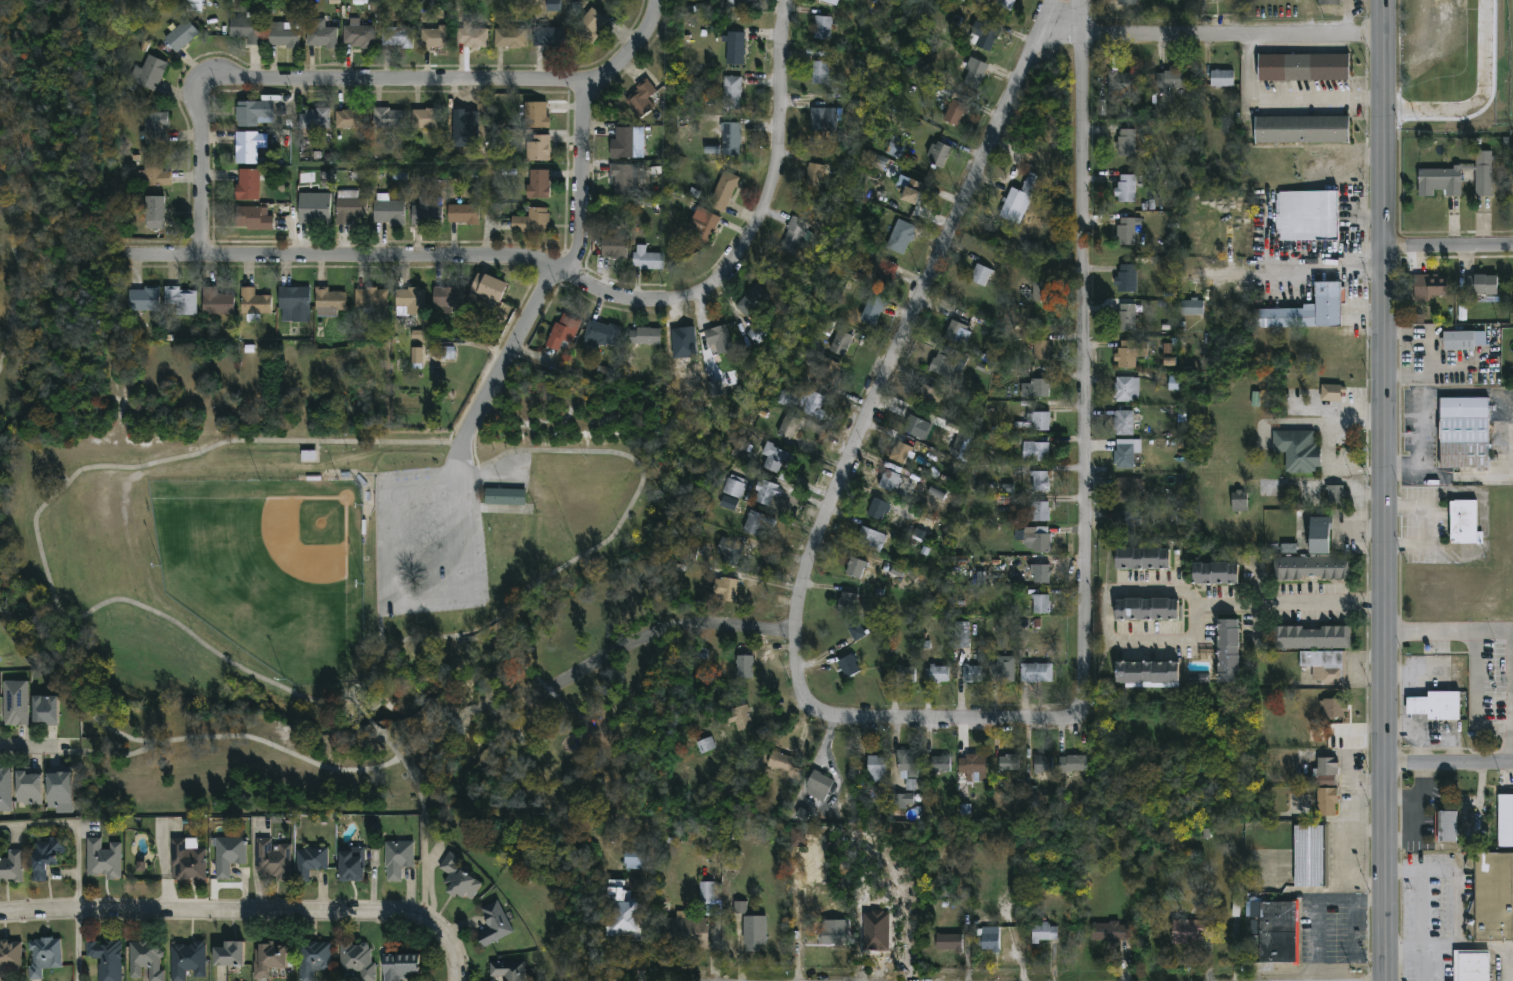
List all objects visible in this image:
building: (1214, 0)
building: (849, 1)
building: (830, 2)
building: (1126, 3)
building: (1328, 3)
building: (738, 4)
building: (194, 5)
building: (553, 5)
building: (1006, 5)
building: (948, 25)
building: (589, 27)
building: (822, 29)
building: (245, 30)
building: (984, 34)
building: (281, 35)
building: (321, 35)
building: (181, 37)
building: (358, 37)
road: (1233, 37)
building: (397, 38)
building: (435, 38)
building: (548, 38)
building: (472, 39)
building: (509, 39)
building: (735, 50)
building: (1302, 68)
building: (150, 74)
building: (819, 75)
building: (973, 76)
road: (407, 80)
building: (1169, 80)
building: (1221, 80)
building: (1122, 84)
building: (732, 94)
road: (1285, 98)
building: (641, 100)
building: (955, 112)
building: (255, 115)
building: (535, 116)
building: (464, 117)
building: (388, 118)
building: (313, 119)
building: (351, 119)
building: (426, 119)
building: (818, 121)
road: (780, 128)
building: (156, 129)
building: (1301, 131)
building: (730, 139)
building: (1125, 143)
building: (626, 144)
building: (249, 147)
building: (895, 147)
building: (537, 149)
building: (937, 156)
road: (204, 169)
building: (154, 172)
building: (1483, 174)
building: (815, 175)
building: (1438, 180)
building: (620, 181)
building: (538, 185)
building: (248, 186)
building: (1126, 190)
building: (723, 192)
building: (908, 192)
building: (1017, 202)
building: (349, 211)
building: (155, 214)
building: (389, 214)
building: (314, 215)
building: (463, 215)
building: (425, 216)
building: (1306, 217)
building: (253, 219)
building: (531, 223)
building: (702, 227)
road: (584, 231)
building: (1126, 233)
building: (792, 238)
building: (899, 240)
building: (613, 247)
road: (1449, 249)
park: (68, 254)
road: (449, 256)
building: (646, 260)
building: (884, 275)
road: (1302, 275)
building: (981, 276)
building: (1126, 279)
building: (1428, 285)
building: (1481, 285)
building: (488, 289)
building: (1040, 294)
building: (448, 299)
building: (142, 301)
building: (181, 301)
building: (329, 301)
building: (370, 301)
building: (752, 302)
building: (217, 303)
building: (409, 303)
building: (254, 304)
building: (294, 306)
building: (1191, 309)
building: (871, 312)
building: (1304, 312)
building: (1126, 319)
road: (1437, 328)
building: (563, 333)
building: (757, 333)
building: (957, 333)
building: (602, 336)
building: (644, 337)
building: (1463, 340)
building: (719, 342)
building: (684, 343)
building: (840, 344)
road: (1405, 345)
road: (900, 347)
road: (1085, 349)
building: (1040, 353)
building: (417, 355)
building: (1129, 355)
building: (1170, 361)
building: (944, 363)
building: (827, 374)
road: (1462, 377)
building: (1175, 383)
building: (1036, 389)
building: (1126, 390)
road: (1436, 392)
building: (1332, 393)
building: (929, 397)
building: (813, 406)
building: (1039, 421)
building: (1123, 424)
building: (914, 426)
building: (788, 428)
building: (1463, 432)
building: (963, 444)
building: (739, 445)
road: (1327, 446)
building: (1297, 451)
building: (1036, 453)
building: (1125, 454)
building: (903, 455)
building: (308, 457)
building: (773, 459)
road: (1445, 475)
building: (1040, 482)
building: (889, 483)
building: (1008, 488)
building: (733, 490)
road: (1385, 490)
building: (1134, 491)
building: (767, 495)
building: (1334, 496)
building: (504, 498)
building: (729, 503)
building: (1239, 503)
building: (877, 511)
building: (1039, 513)
building: (1461, 522)
building: (755, 525)
building: (1126, 525)
road: (1432, 525)
building: (1318, 535)
building: (1036, 540)
building: (870, 541)
parking lot: (428, 542)
road: (603, 543)
building: (1288, 548)
building: (728, 552)
park: (297, 559)
building: (1141, 559)
building: (1311, 567)
building: (855, 569)
park: (270, 570)
building: (1039, 574)
building: (1215, 574)
building: (724, 590)
road: (387, 598)
road: (1293, 601)
building: (847, 603)
building: (1040, 605)
building: (1145, 610)
road: (673, 622)
road: (1448, 630)
building: (856, 633)
road: (1106, 634)
park: (326, 635)
building: (961, 635)
building: (1310, 637)
park: (44, 644)
building: (1227, 651)
building: (701, 653)
building: (1323, 665)
building: (744, 667)
building: (848, 667)
building: (1002, 671)
building: (1146, 672)
road: (1422, 672)
building: (1036, 673)
building: (936, 674)
building: (972, 674)
building: (906, 675)
building: (1199, 678)
road: (1402, 694)
road: (1472, 700)
building: (15, 704)
building: (1434, 706)
building: (1331, 708)
building: (43, 711)
building: (739, 718)
road: (946, 723)
road: (1433, 733)
building: (705, 745)
road: (1512, 745)
road: (32, 746)
road: (1421, 747)
road: (1449, 761)
building: (1009, 763)
building: (784, 764)
building: (907, 765)
building: (940, 765)
building: (1043, 765)
building: (1072, 765)
building: (972, 768)
building: (876, 769)
building: (819, 783)
building: (911, 784)
building: (1326, 787)
building: (29, 789)
building: (5, 790)
road: (1479, 792)
building: (59, 793)
building: (1028, 793)
road: (1421, 796)
building: (902, 803)
road: (1420, 817)
building: (1504, 819)
road: (39, 825)
building: (1445, 826)
building: (228, 856)
building: (1310, 856)
building: (45, 858)
building: (397, 859)
building: (103, 860)
building: (636, 860)
building: (273, 862)
building: (309, 862)
building: (187, 863)
building: (351, 865)
building: (11, 869)
road: (78, 870)
road: (426, 873)
building: (458, 880)
building: (707, 892)
building: (1491, 897)
road: (1317, 905)
road: (1426, 905)
building: (740, 907)
building: (620, 912)
road: (248, 915)
building: (494, 926)
building: (1275, 931)
building: (1110, 932)
building: (1190, 932)
building: (1044, 933)
building: (686, 934)
building: (832, 934)
building: (751, 935)
building: (987, 940)
building: (949, 943)
road: (1455, 945)
road: (79, 948)
road: (1352, 950)
building: (228, 954)
building: (43, 956)
building: (106, 959)
building: (268, 959)
building: (186, 960)
building: (10, 961)
building: (146, 961)
building: (313, 961)
building: (356, 962)
building: (399, 966)
building: (1471, 966)
building: (507, 970)
road: (1511, 975)

